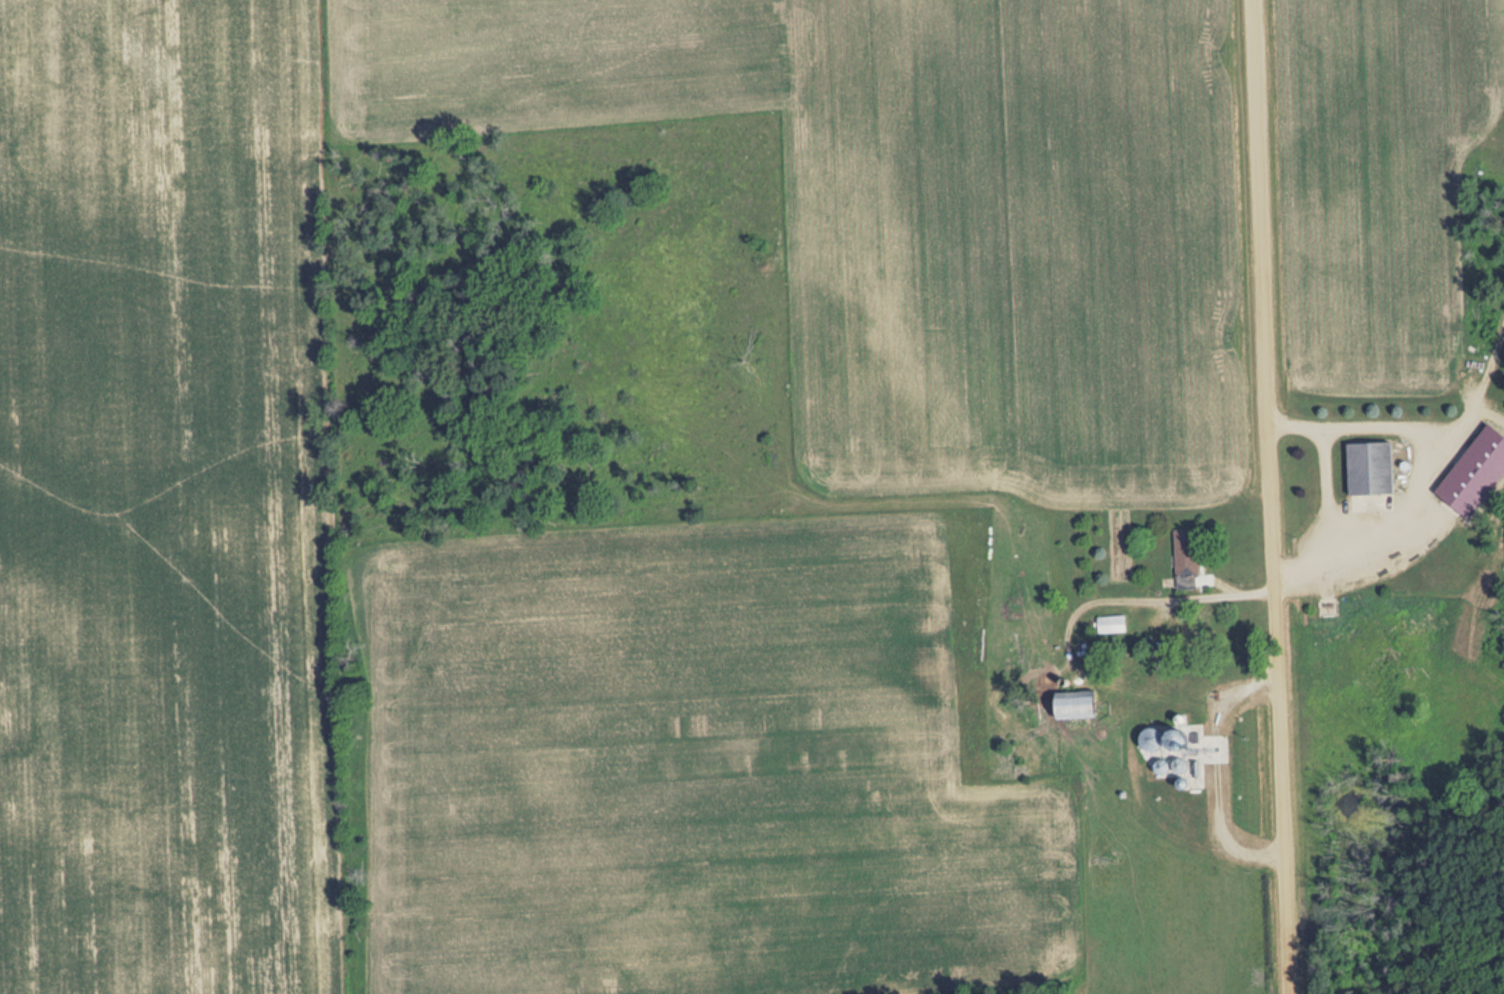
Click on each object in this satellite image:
building: (1376, 469)
building: (1479, 474)
road: (1266, 496)
building: (1191, 559)
building: (1116, 624)
building: (1196, 631)
building: (1088, 705)
building: (1171, 740)
building: (1168, 766)
building: (1186, 766)

